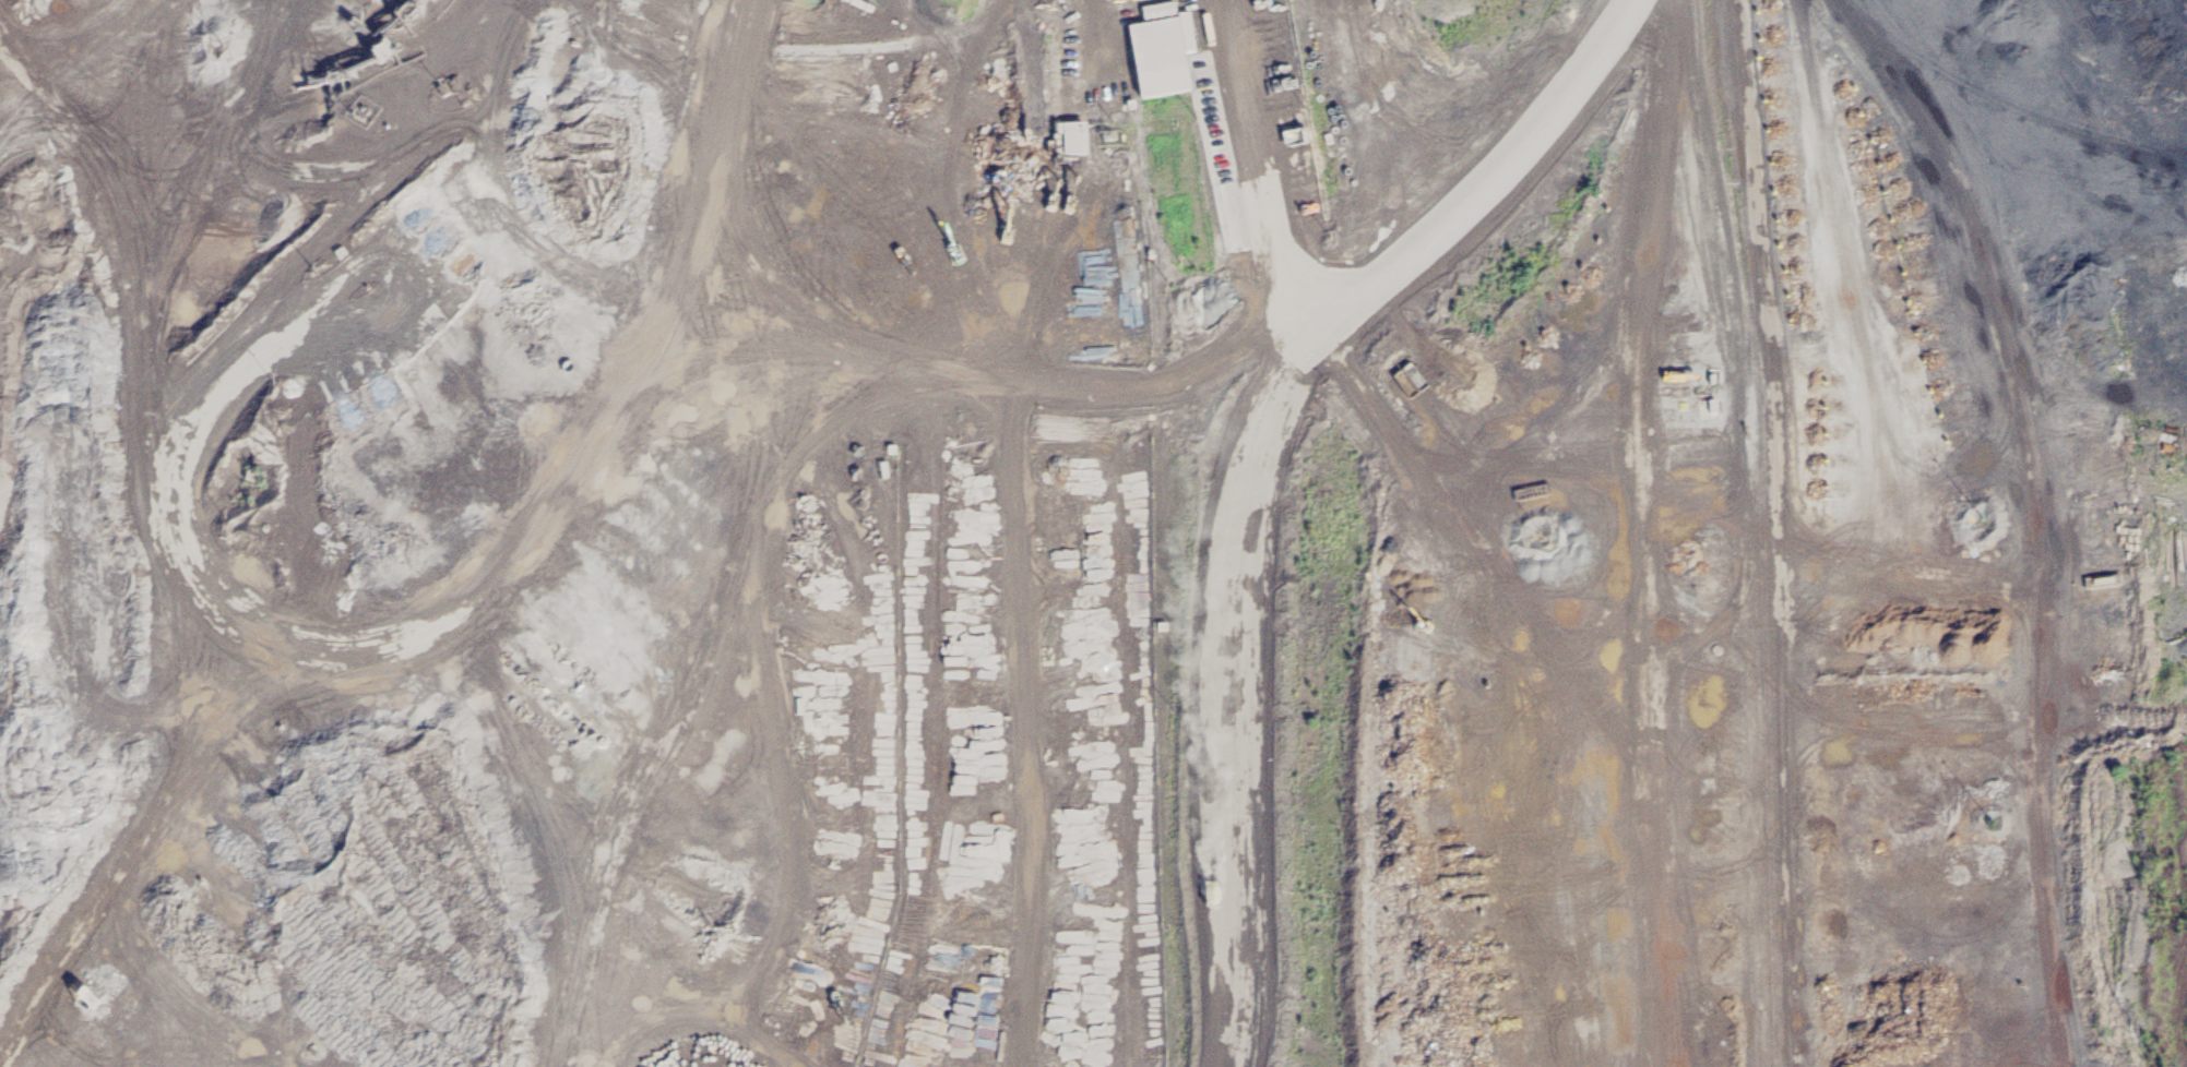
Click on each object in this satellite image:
landfill: (2092, 64)
railway: (1761, 531)

